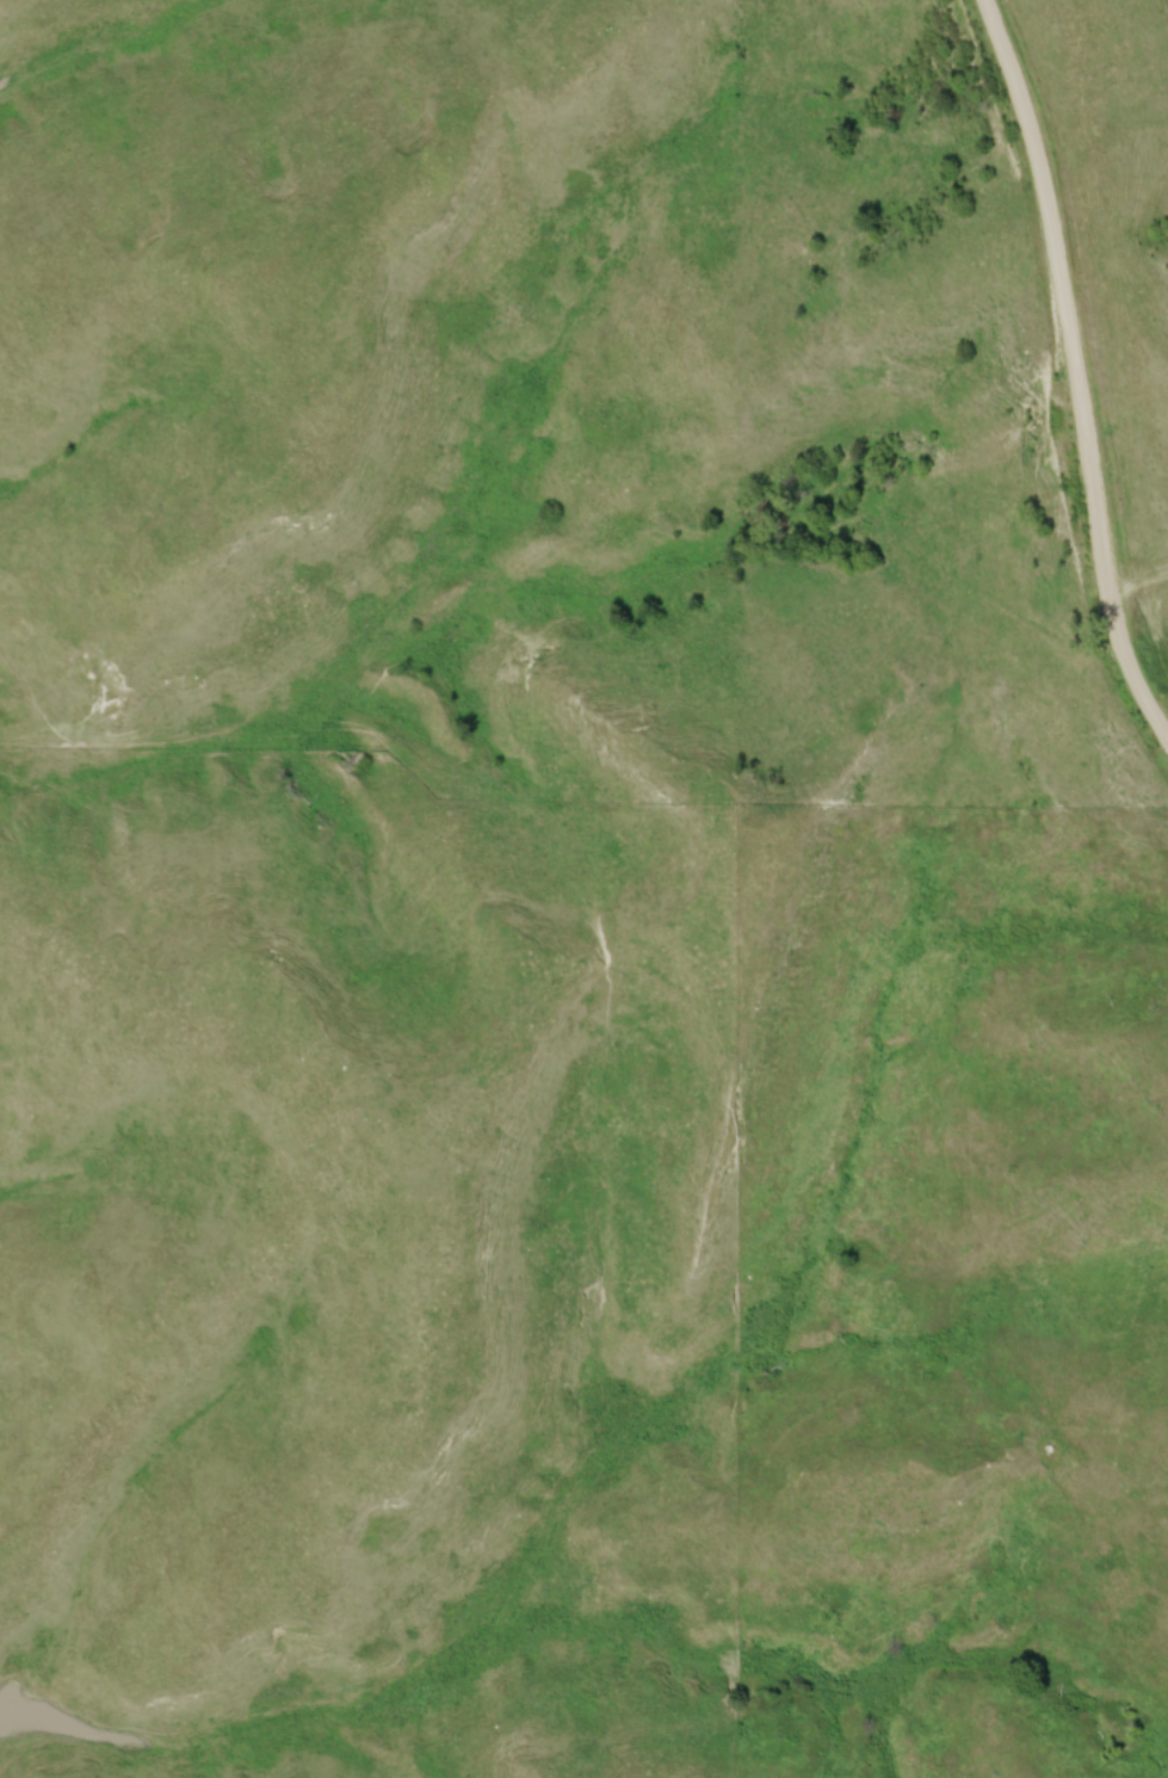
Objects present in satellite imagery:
road: (1076, 369)

